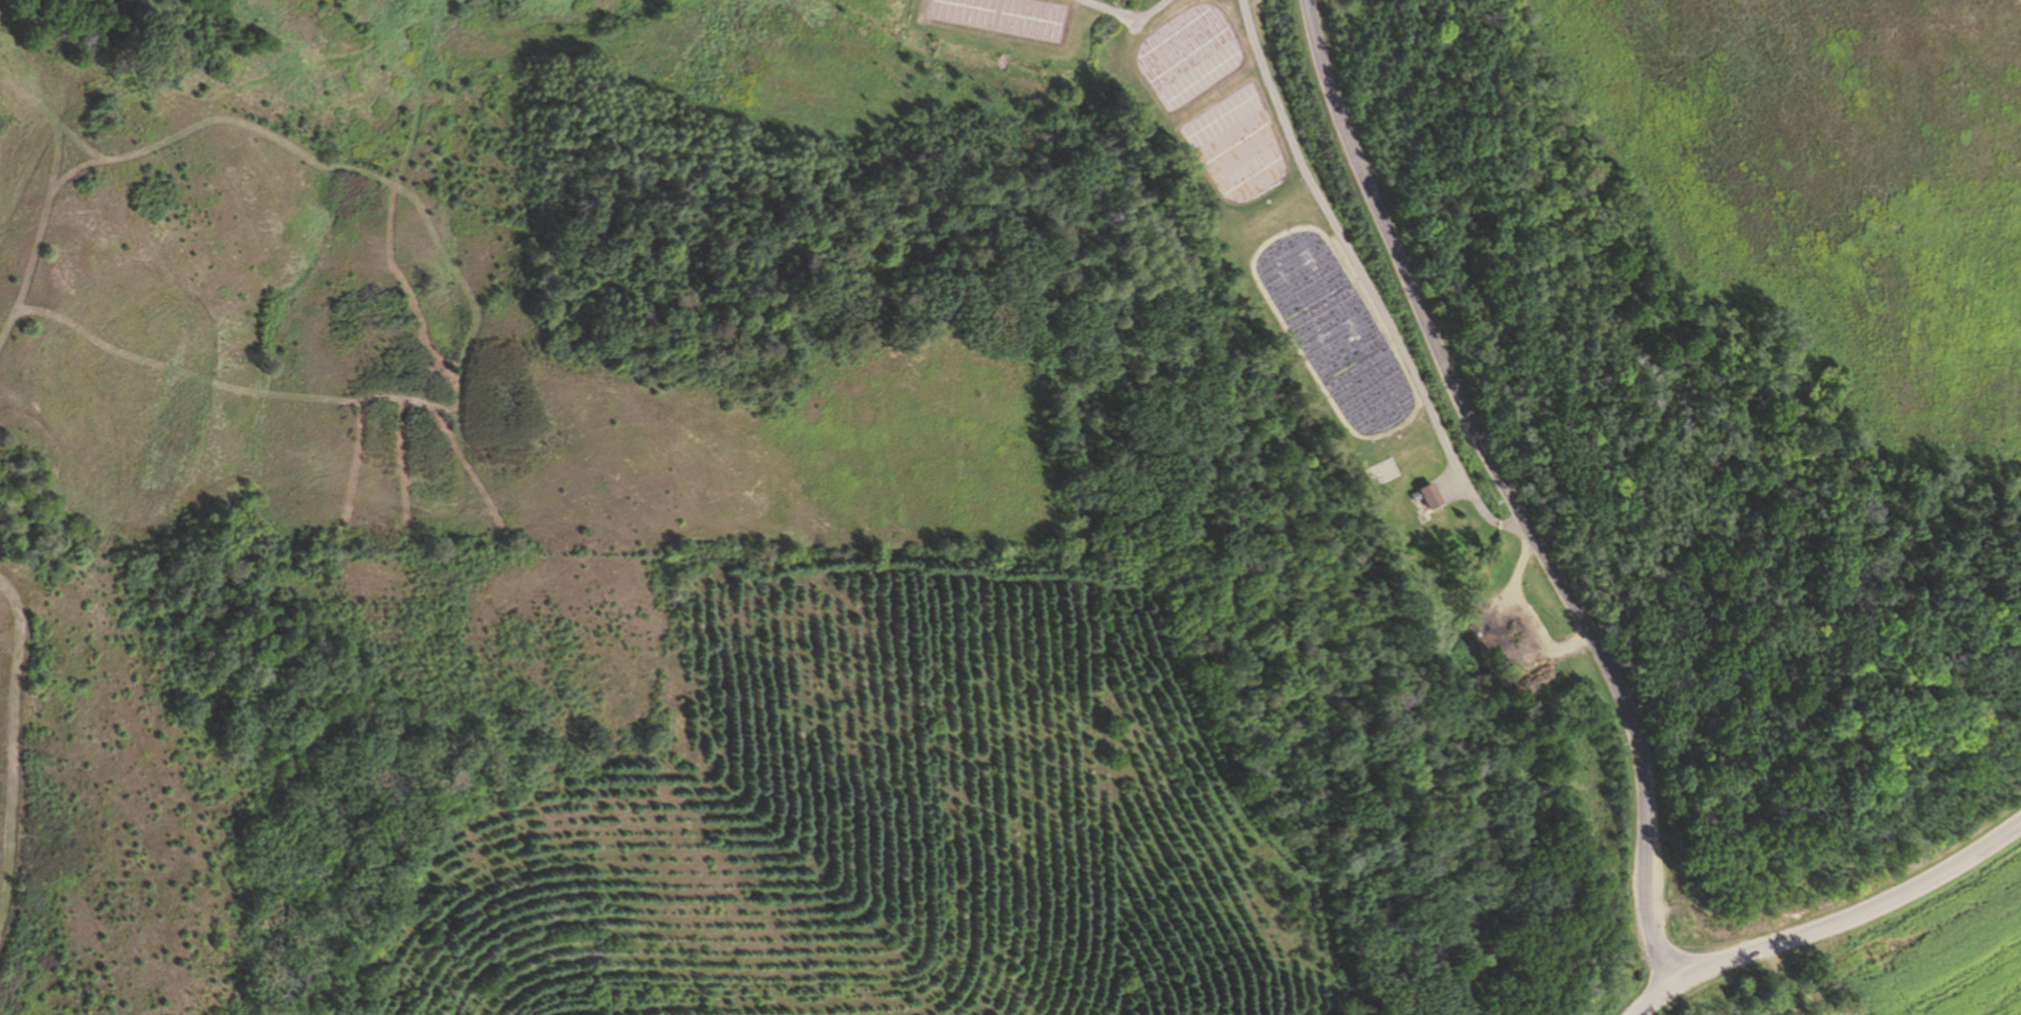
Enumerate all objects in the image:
building: (1344, 370)
road: (1519, 486)
building: (1434, 495)
road: (1858, 917)
road: (1659, 996)

